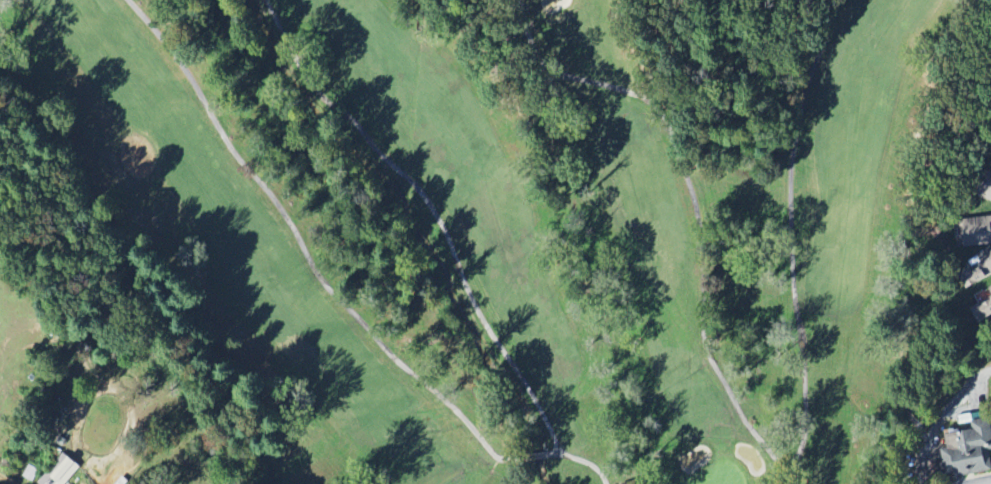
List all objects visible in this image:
building: (988, 193)
park: (536, 220)
building: (976, 231)
building: (978, 270)
building: (990, 289)
building: (982, 311)
building: (969, 450)
building: (61, 472)

